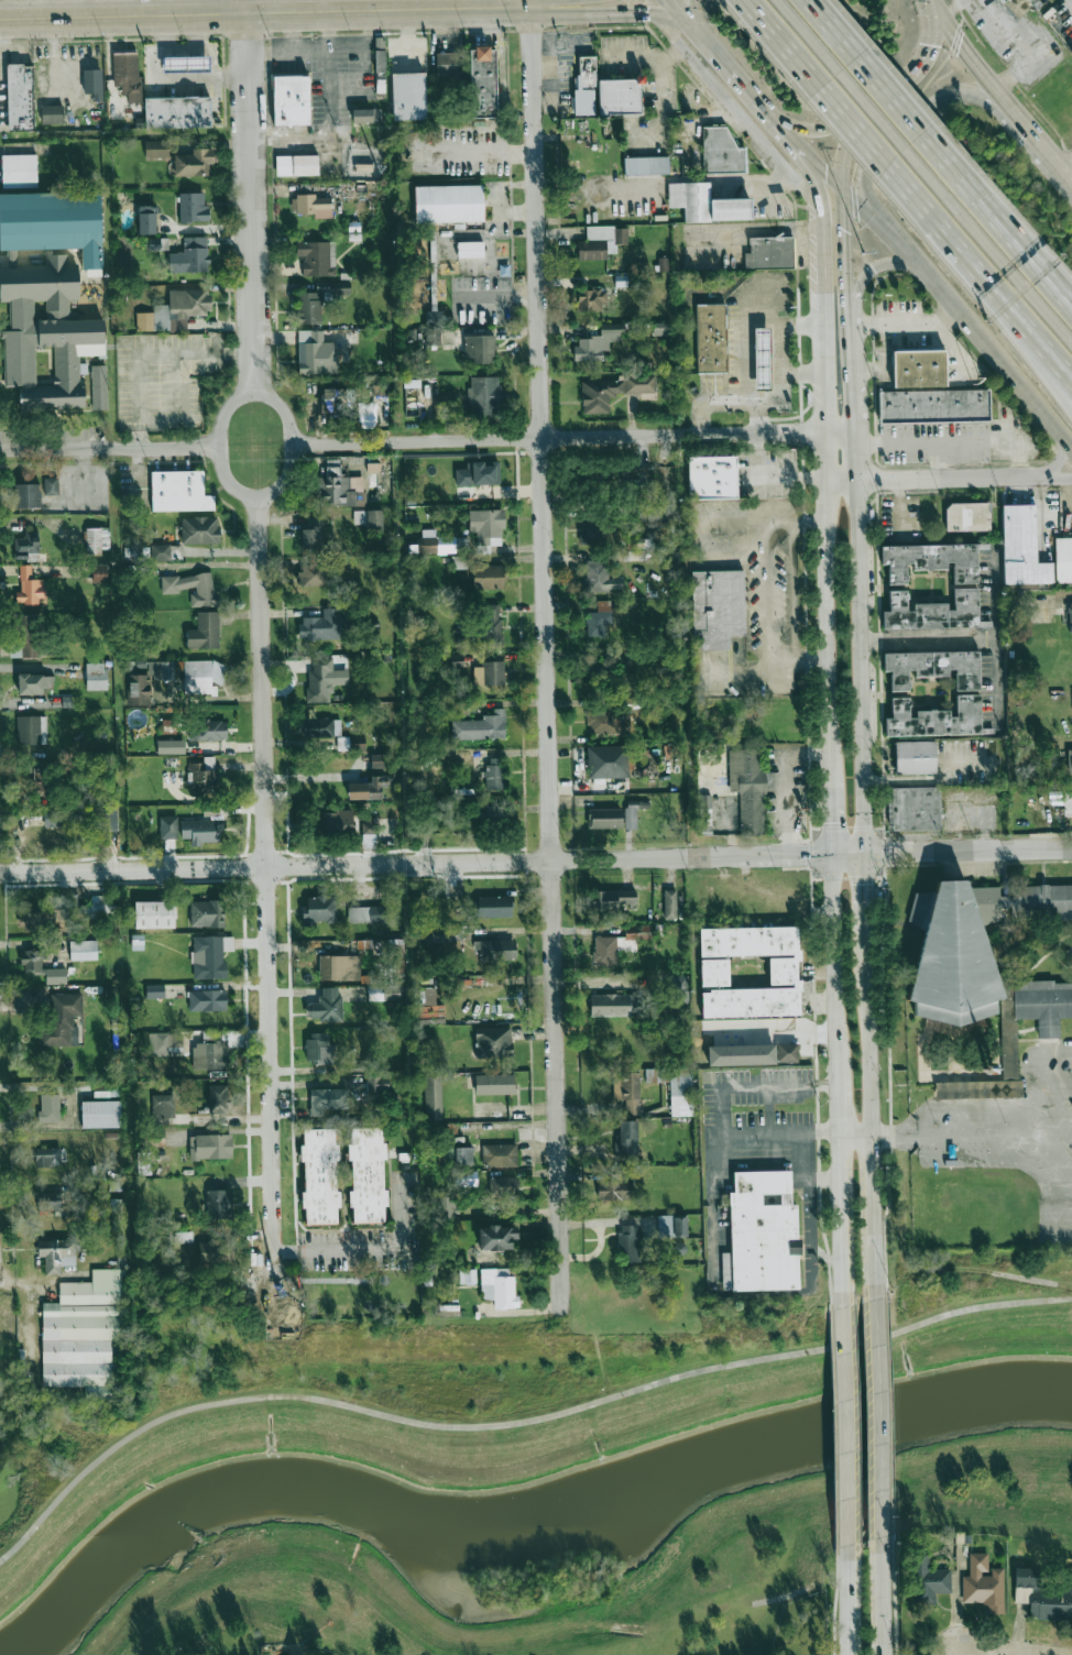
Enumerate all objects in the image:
traffic signals: (929, 0)
building: (999, 0)
building: (1025, 0)
road: (527, 3)
road: (536, 3)
road: (479, 4)
road: (292, 6)
road: (263, 11)
road: (613, 13)
traffic signals: (645, 13)
road: (682, 14)
road: (694, 14)
road: (327, 29)
road: (293, 32)
road: (1006, 35)
road: (322, 47)
road: (182, 50)
road: (214, 56)
road: (976, 62)
building: (186, 63)
gas station: (186, 63)
building: (446, 65)
road: (734, 72)
road: (916, 72)
road: (1011, 74)
building: (127, 75)
road: (187, 77)
building: (482, 83)
building: (92, 84)
building: (603, 91)
road: (886, 91)
building: (408, 96)
building: (22, 97)
building: (293, 99)
road: (860, 99)
road: (834, 108)
building: (178, 112)
building: (52, 113)
building: (367, 116)
road: (912, 124)
road: (329, 130)
road: (813, 130)
road: (1036, 140)
building: (156, 149)
road: (478, 151)
building: (721, 151)
road: (808, 152)
building: (194, 163)
building: (297, 165)
building: (646, 165)
building: (20, 171)
road: (1059, 172)
road: (1066, 172)
traffic signals: (844, 188)
road: (250, 195)
building: (449, 204)
building: (702, 204)
building: (311, 205)
building: (193, 207)
building: (146, 219)
building: (55, 223)
road: (802, 226)
road: (742, 228)
road: (1005, 231)
building: (601, 242)
building: (470, 249)
building: (766, 253)
building: (190, 256)
building: (315, 259)
road: (965, 262)
road: (876, 265)
road: (1008, 271)
road: (1059, 289)
road: (1059, 295)
building: (591, 299)
building: (318, 300)
building: (175, 310)
road: (961, 315)
road: (854, 317)
road: (905, 322)
building: (661, 328)
building: (45, 333)
building: (711, 338)
building: (598, 342)
road: (1039, 346)
road: (953, 348)
building: (479, 349)
road: (149, 353)
building: (316, 353)
road: (1039, 357)
building: (762, 358)
road: (800, 372)
building: (99, 386)
building: (379, 390)
building: (612, 391)
building: (928, 391)
building: (483, 396)
road: (779, 397)
road: (178, 405)
road: (758, 418)
road: (571, 439)
road: (956, 440)
road: (287, 442)
road: (221, 445)
road: (110, 449)
road: (937, 460)
road: (1060, 461)
building: (479, 473)
road: (769, 476)
road: (1057, 476)
building: (712, 478)
road: (933, 478)
building: (51, 486)
building: (178, 491)
building: (340, 491)
building: (25, 495)
building: (657, 514)
building: (967, 516)
building: (369, 518)
road: (761, 522)
building: (486, 526)
building: (199, 529)
building: (588, 529)
building: (311, 534)
road: (767, 536)
building: (97, 540)
building: (441, 542)
building: (26, 545)
building: (1021, 547)
road: (718, 550)
building: (161, 551)
building: (1063, 559)
building: (99, 572)
building: (313, 574)
building: (488, 577)
building: (600, 578)
building: (29, 588)
building: (192, 588)
building: (965, 588)
road: (993, 598)
road: (767, 605)
building: (715, 606)
building: (1070, 616)
building: (599, 618)
building: (492, 624)
building: (326, 625)
building: (204, 632)
building: (25, 637)
road: (923, 640)
road: (543, 658)
road: (797, 661)
road: (767, 668)
building: (933, 668)
building: (600, 670)
building: (489, 673)
road: (997, 675)
building: (96, 676)
road: (736, 676)
building: (203, 677)
building: (320, 680)
building: (146, 681)
building: (34, 682)
road: (828, 704)
road: (864, 709)
building: (934, 717)
building: (606, 722)
building: (480, 726)
building: (316, 727)
building: (31, 730)
building: (211, 730)
building: (342, 743)
building: (171, 746)
building: (916, 757)
building: (379, 760)
building: (606, 761)
building: (1070, 764)
building: (494, 774)
building: (204, 777)
building: (40, 779)
building: (367, 788)
building: (747, 789)
building: (914, 809)
building: (495, 813)
building: (631, 813)
building: (81, 816)
building: (605, 818)
building: (167, 826)
building: (203, 827)
traffic signals: (868, 854)
traffic signals: (831, 855)
road: (536, 861)
building: (614, 899)
building: (669, 903)
building: (97, 907)
road: (264, 907)
building: (494, 907)
building: (320, 909)
building: (206, 913)
building: (154, 914)
building: (365, 914)
building: (31, 921)
building: (442, 934)
building: (619, 944)
building: (965, 944)
building: (83, 950)
building: (495, 950)
building: (210, 956)
building: (31, 960)
building: (339, 967)
building: (783, 971)
building: (714, 972)
building: (677, 987)
building: (154, 991)
building: (383, 991)
building: (427, 996)
building: (207, 1000)
building: (1043, 1004)
building: (325, 1005)
building: (615, 1005)
building: (62, 1019)
building: (493, 1042)
building: (165, 1044)
building: (320, 1049)
building: (1009, 1050)
building: (215, 1052)
building: (787, 1053)
building: (741, 1054)
building: (494, 1084)
building: (376, 1085)
building: (626, 1090)
building: (680, 1092)
building: (433, 1097)
building: (217, 1098)
building: (327, 1099)
road: (999, 1105)
building: (163, 1107)
building: (48, 1108)
road: (767, 1113)
building: (100, 1114)
road: (718, 1115)
building: (625, 1137)
road: (857, 1137)
road: (889, 1137)
parking lot: (1002, 1140)
building: (210, 1146)
building: (499, 1154)
building: (462, 1155)
building: (47, 1157)
building: (367, 1173)
building: (319, 1175)
building: (466, 1177)
road: (1041, 1180)
road: (825, 1186)
building: (503, 1187)
building: (614, 1190)
building: (51, 1201)
building: (218, 1203)
road: (808, 1216)
building: (671, 1226)
building: (762, 1234)
building: (495, 1237)
building: (632, 1242)
road: (370, 1250)
building: (216, 1251)
building: (57, 1254)
building: (467, 1276)
building: (499, 1286)
building: (84, 1335)
road: (877, 1405)
road: (847, 1406)
road: (513, 1422)
river: (515, 1521)
building: (927, 1579)
road: (846, 1580)
road: (879, 1581)
building: (983, 1583)
building: (1046, 1596)
road: (1010, 1647)

